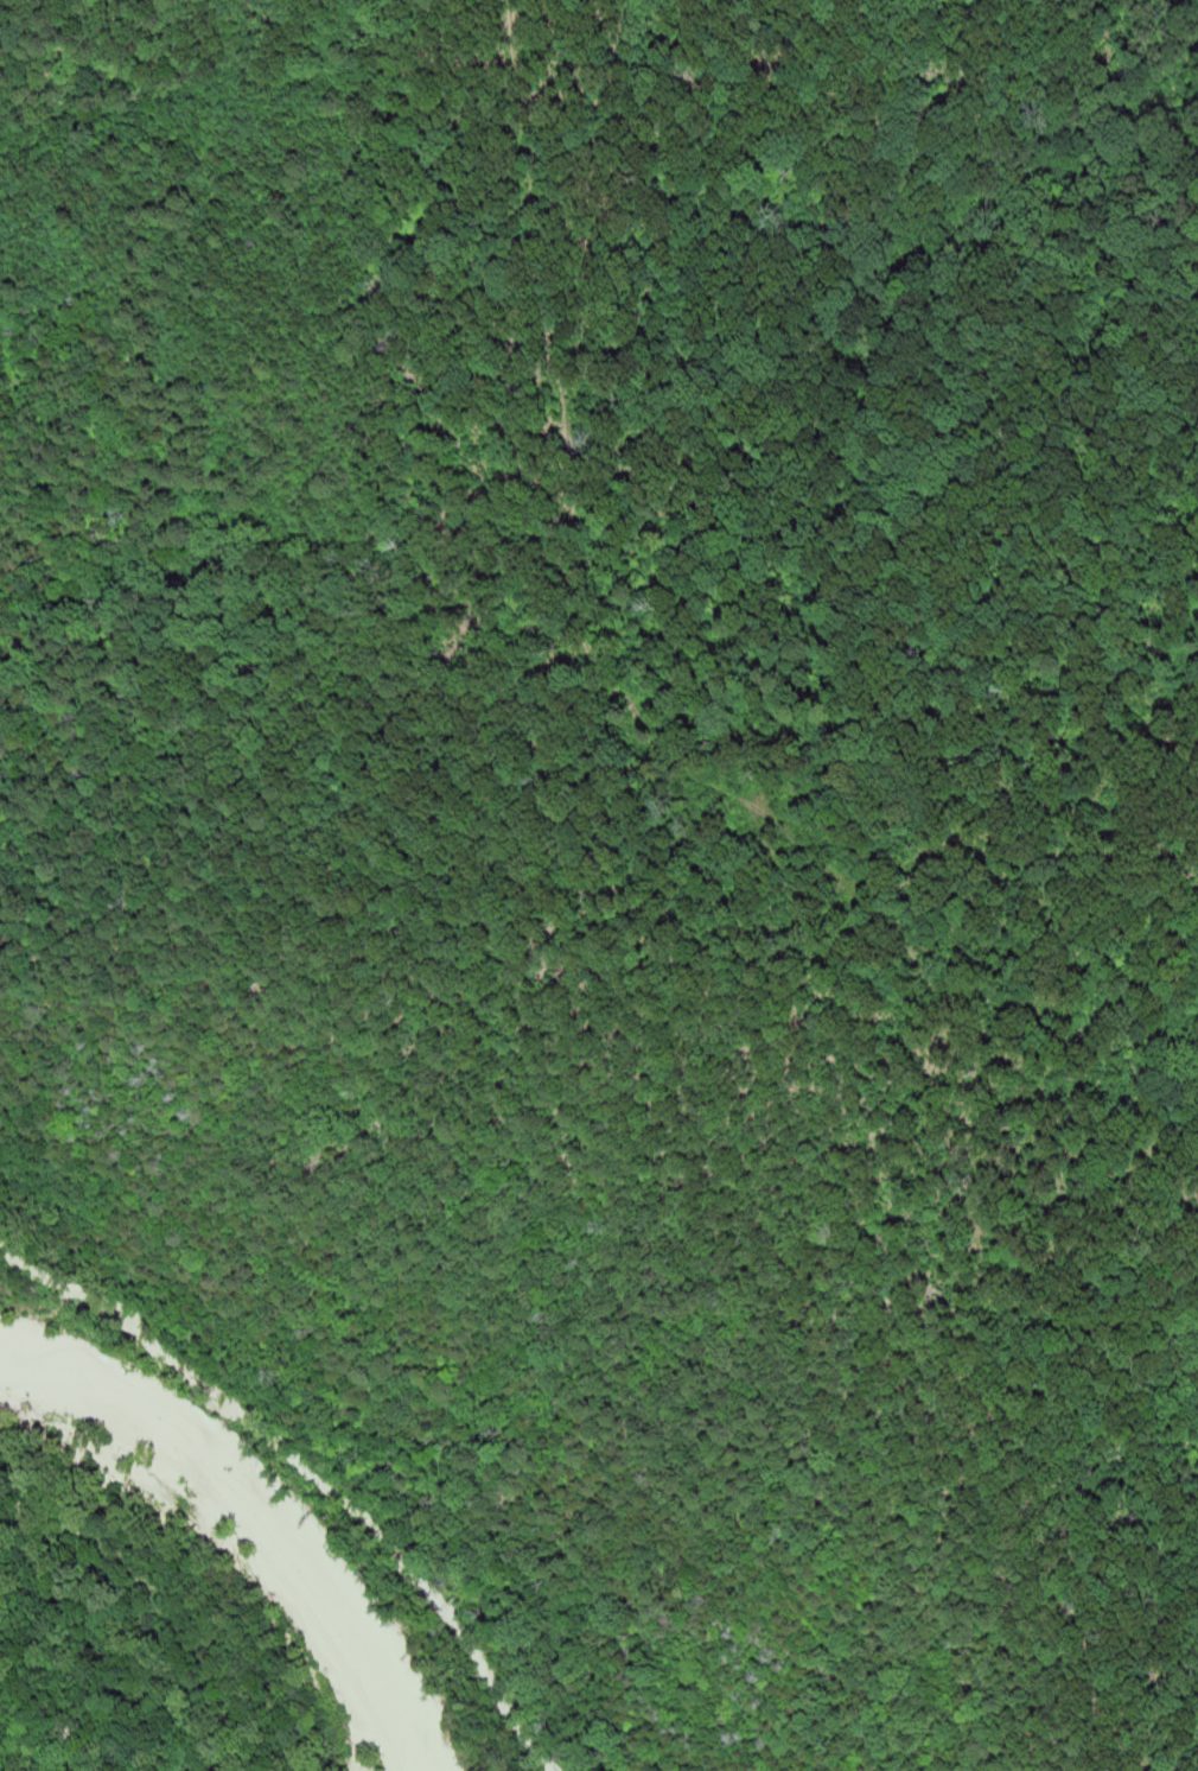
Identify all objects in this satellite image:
road: (59, 1710)

